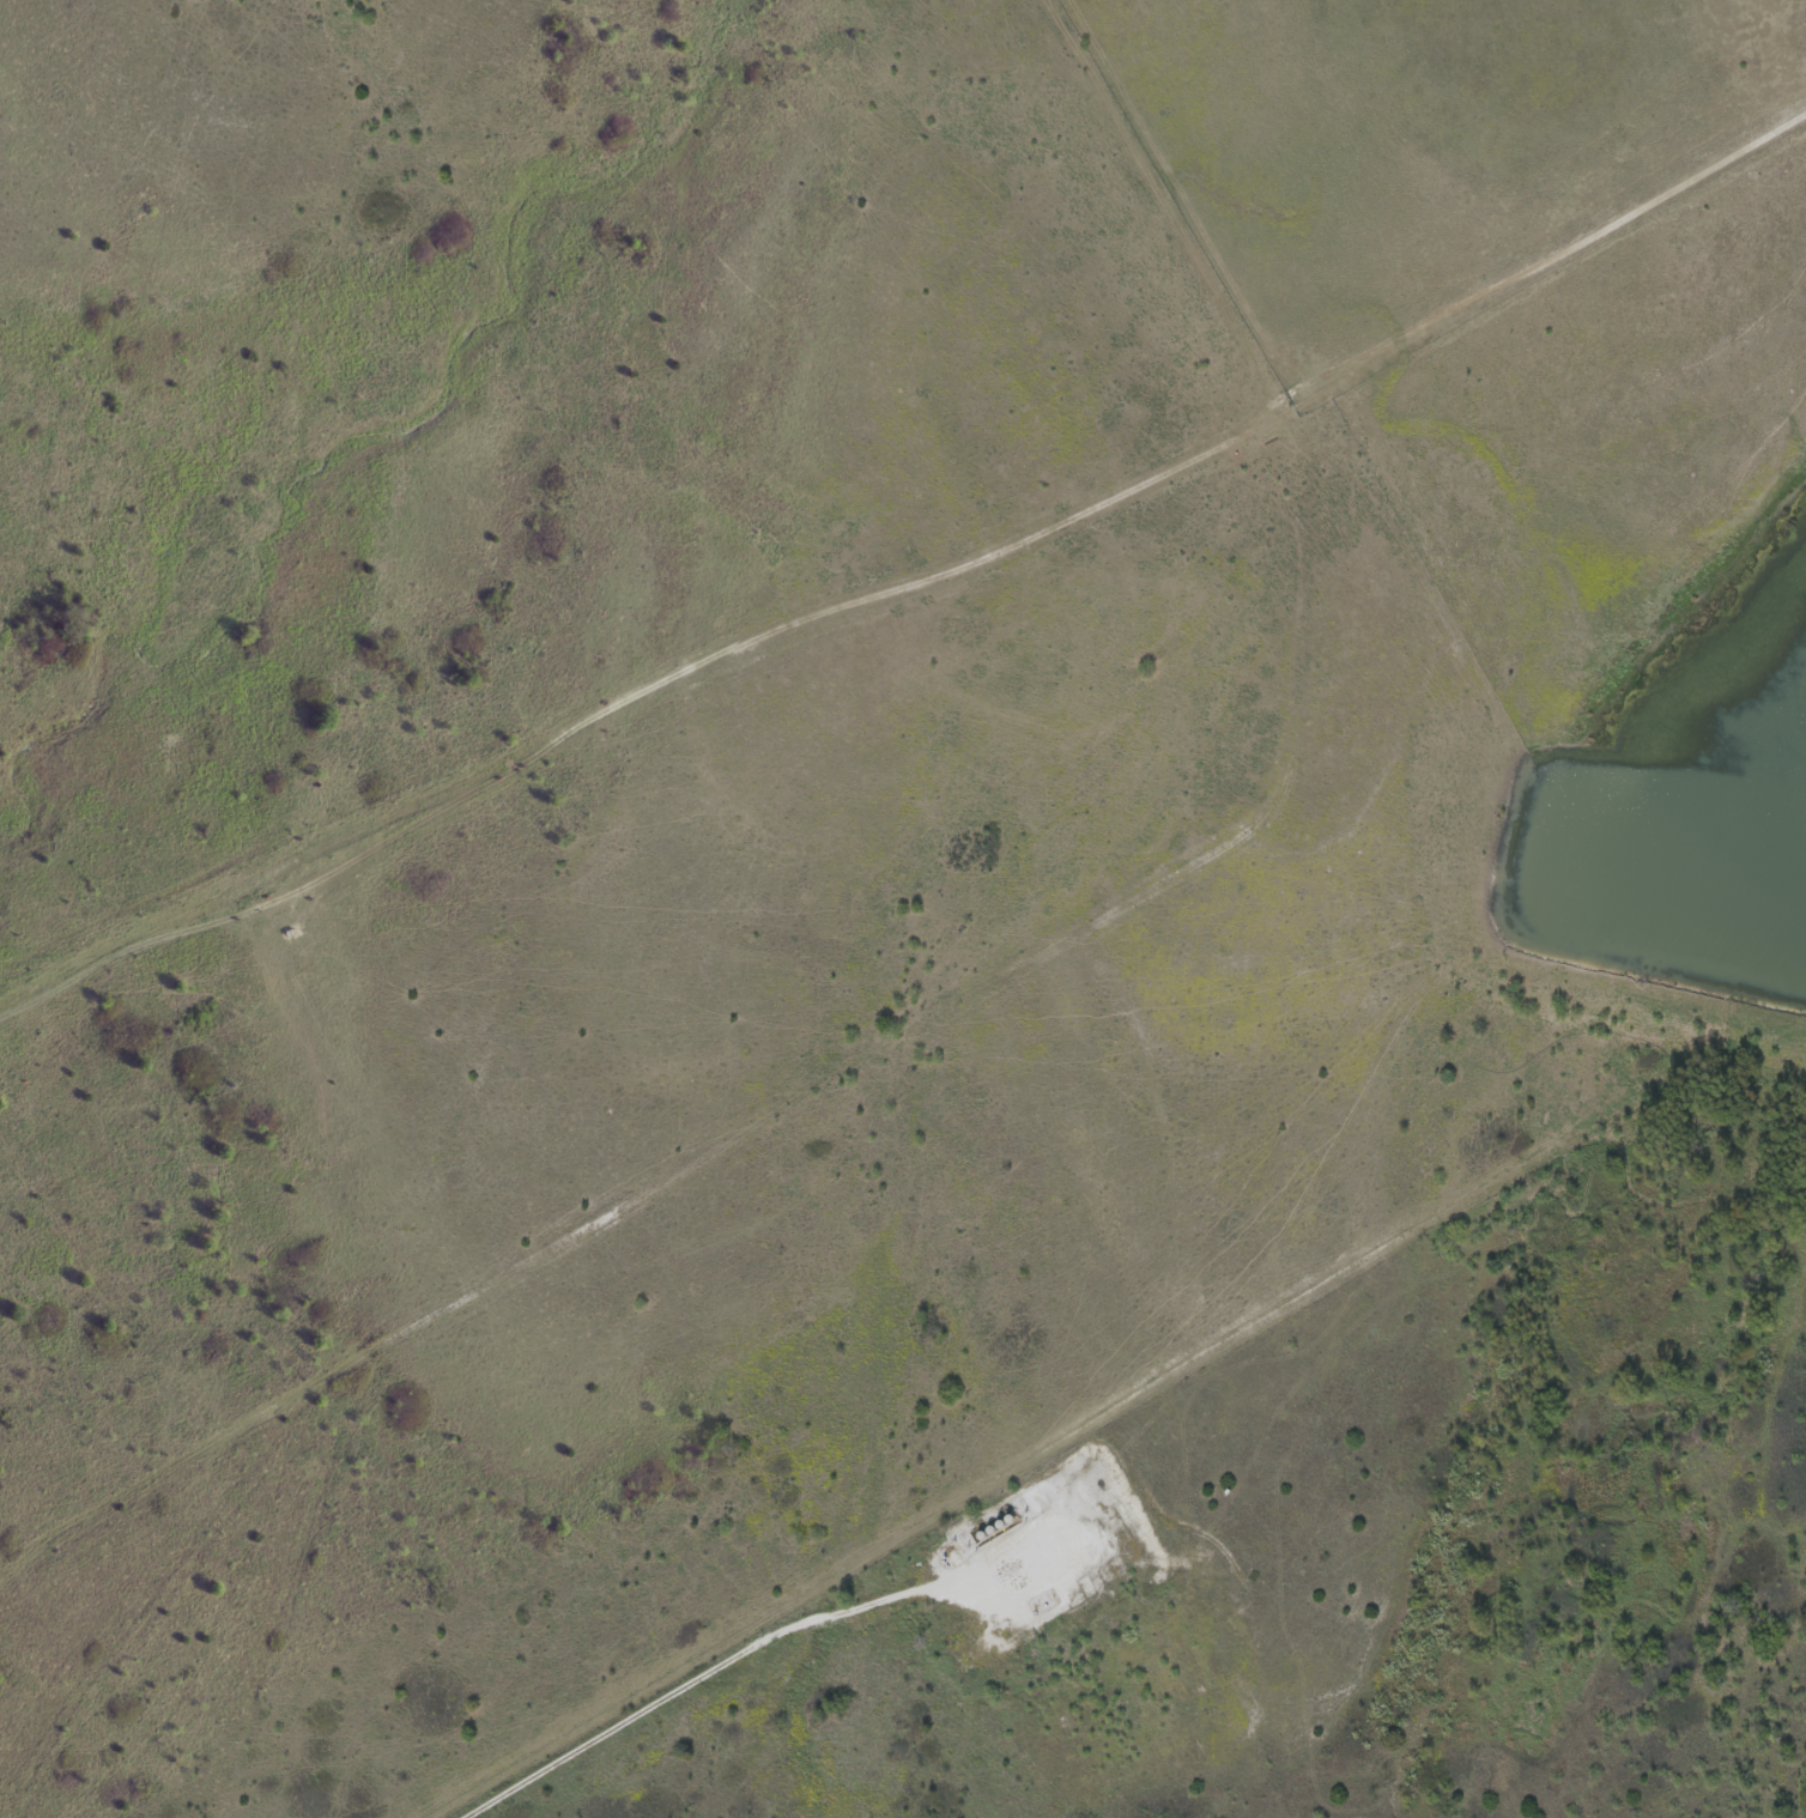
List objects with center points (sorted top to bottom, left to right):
road: (966, 187)
road: (1174, 196)
road: (923, 584)
road: (696, 1675)

